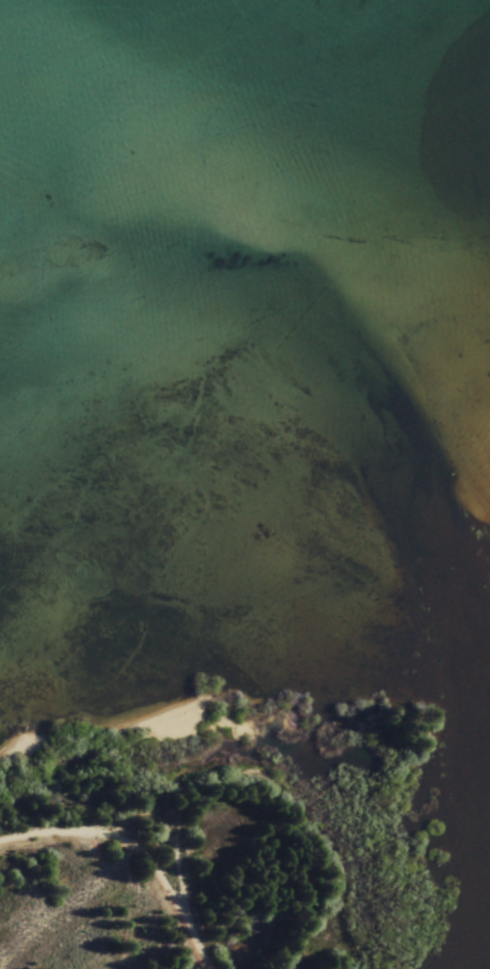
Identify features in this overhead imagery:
road: (134, 852)

